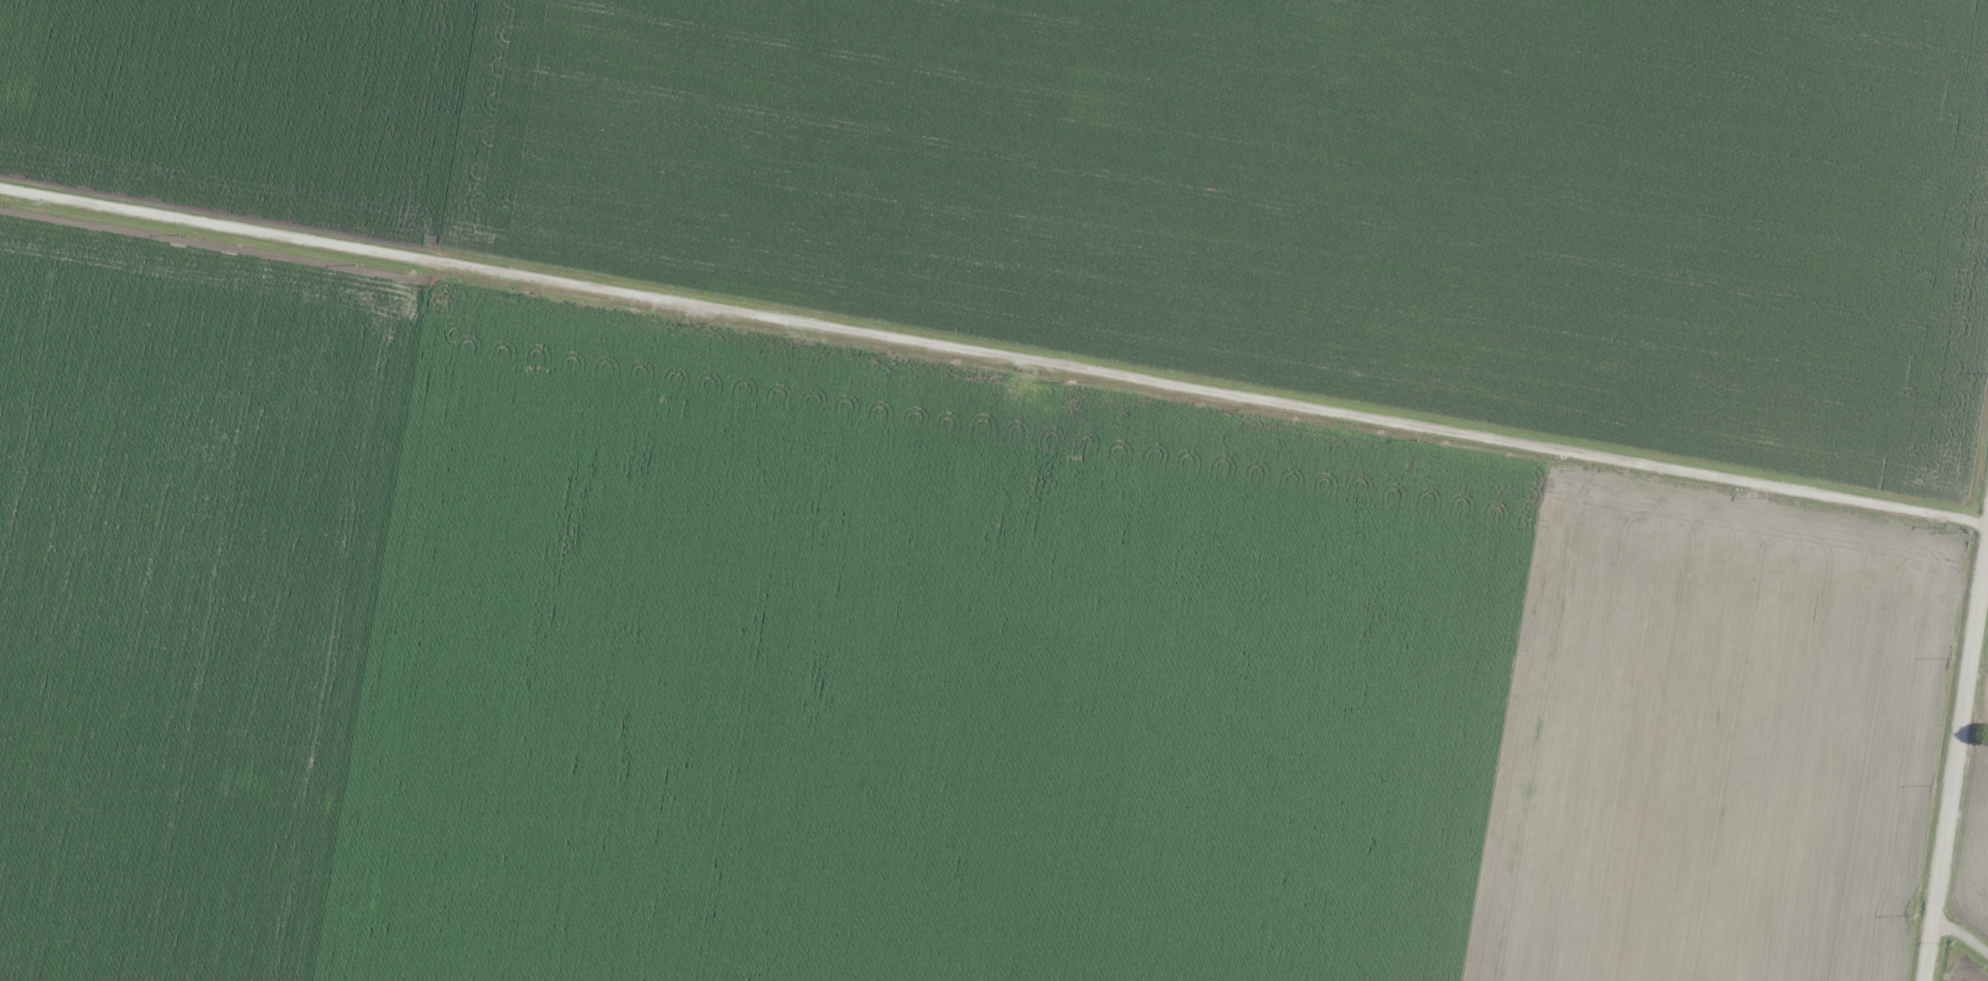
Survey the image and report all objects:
road: (994, 361)
road: (1958, 762)
road: (1962, 947)

